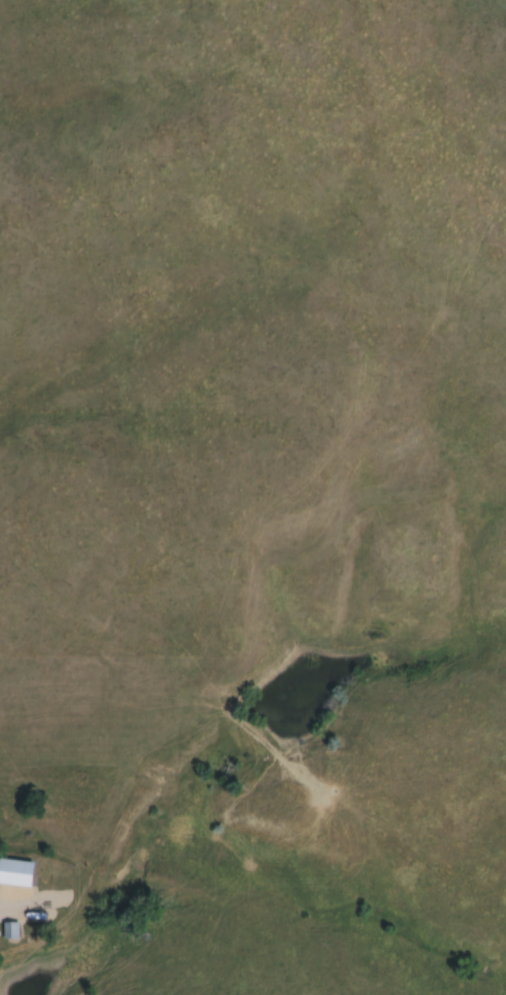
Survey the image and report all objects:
building: (9, 931)

